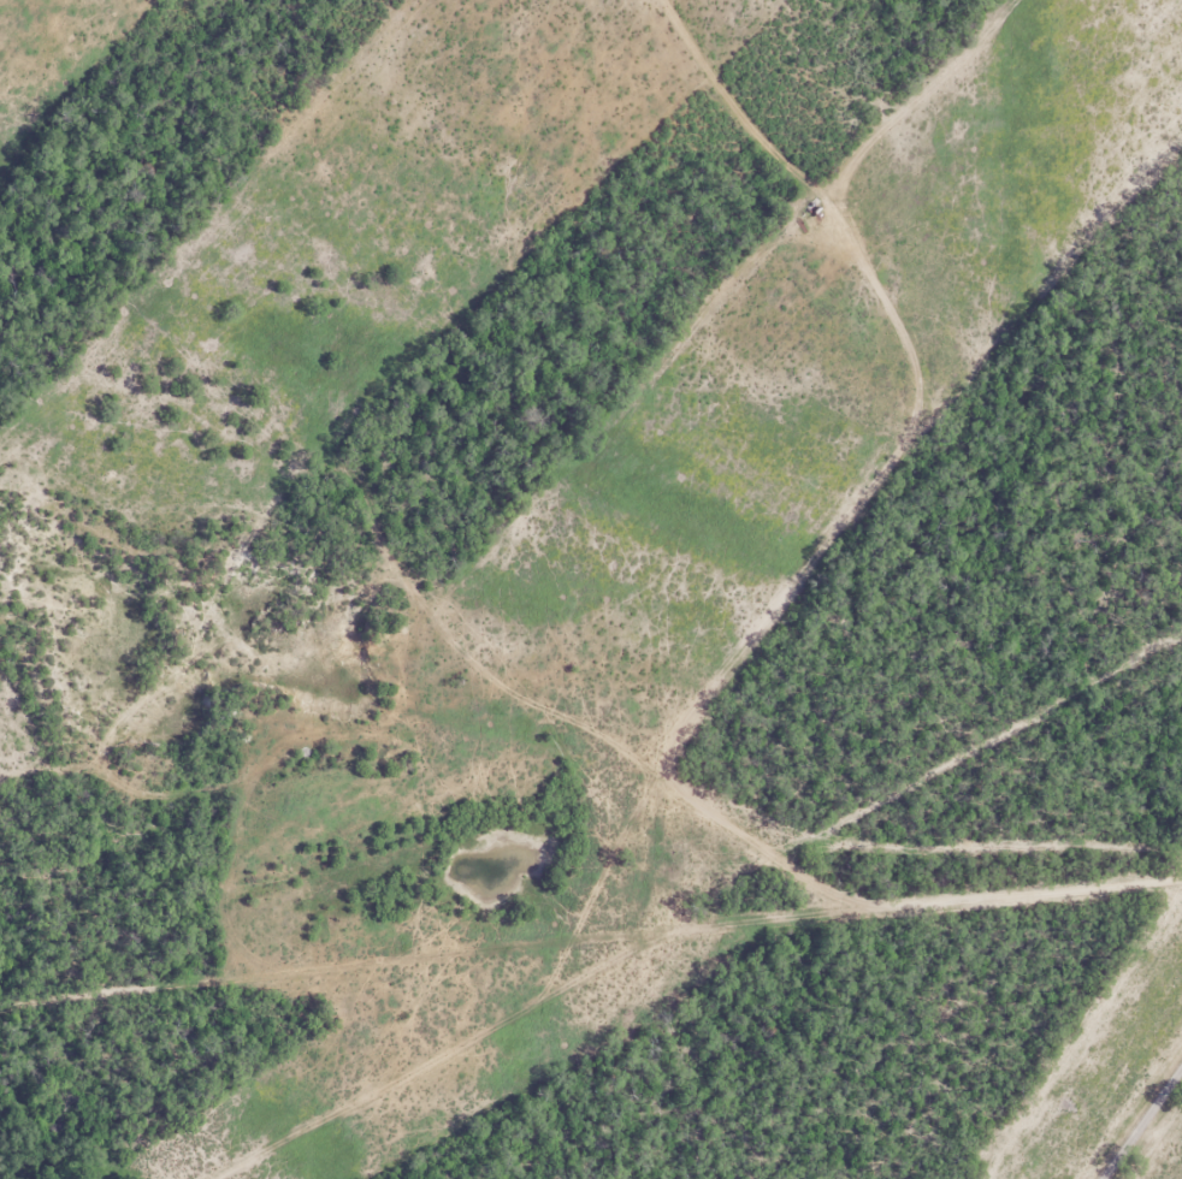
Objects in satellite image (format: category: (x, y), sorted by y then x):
road: (1158, 1144)

